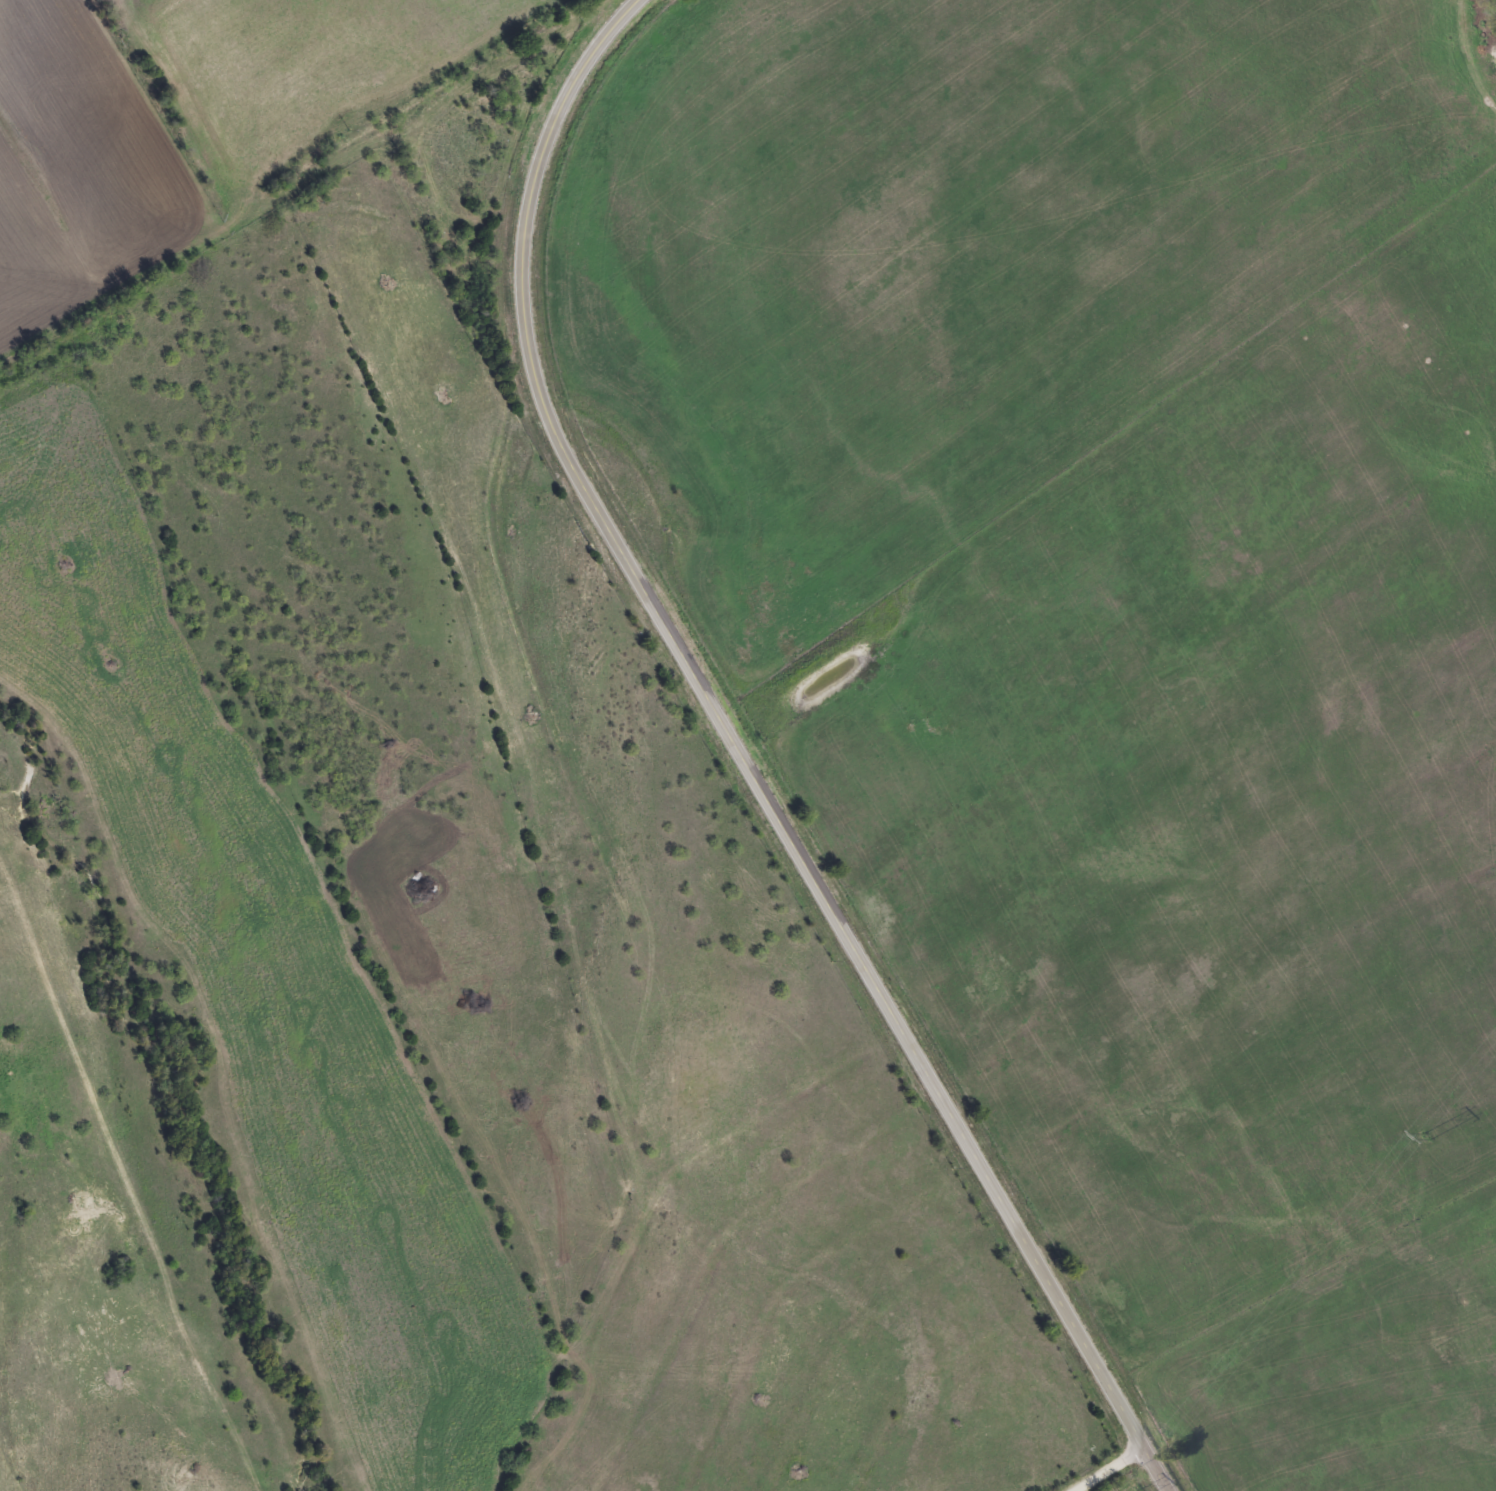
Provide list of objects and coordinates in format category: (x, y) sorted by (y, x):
road: (752, 759)
power tower: (1427, 1135)
road: (1122, 1470)

